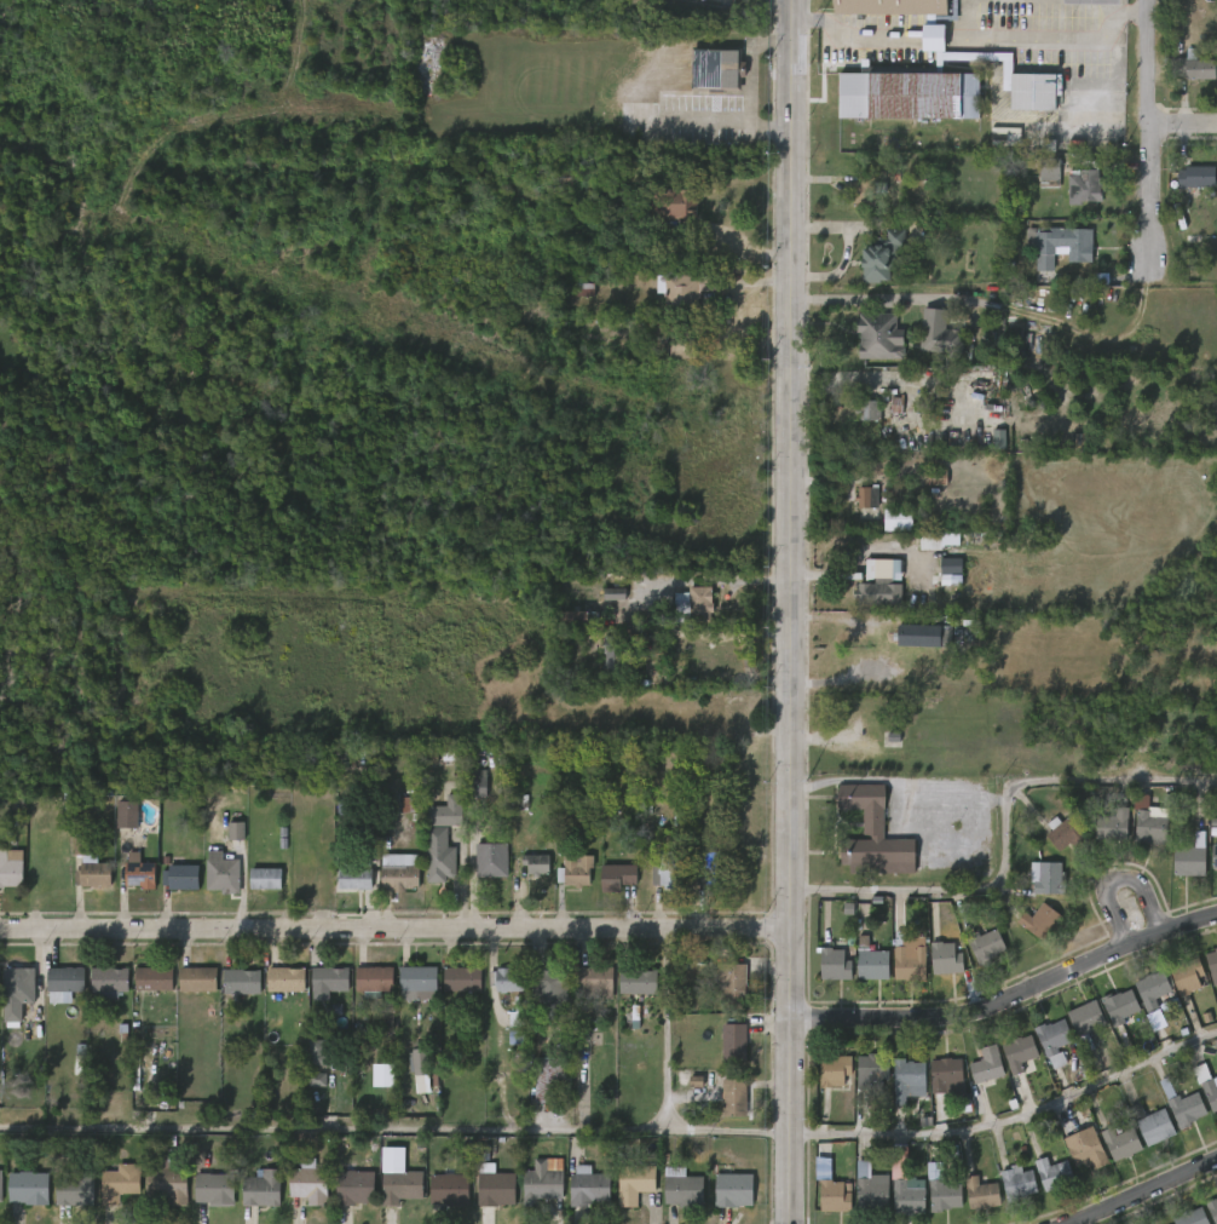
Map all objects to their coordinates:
road: (1113, 5)
building: (900, 7)
road: (1130, 10)
road: (858, 35)
road: (936, 36)
road: (959, 36)
building: (935, 38)
road: (1023, 39)
building: (1196, 67)
building: (717, 68)
building: (1021, 81)
building: (904, 92)
road: (1101, 131)
road: (1147, 132)
road: (1182, 132)
building: (1048, 172)
building: (1198, 176)
building: (1083, 183)
building: (860, 190)
building: (668, 207)
building: (619, 219)
building: (1062, 243)
road: (844, 248)
building: (884, 255)
road: (1144, 276)
building: (581, 289)
building: (684, 291)
road: (896, 299)
building: (938, 334)
building: (876, 337)
road: (1088, 337)
building: (896, 406)
building: (867, 410)
building: (999, 439)
building: (936, 479)
building: (867, 498)
building: (894, 519)
building: (932, 539)
building: (947, 569)
road: (714, 580)
building: (877, 581)
building: (615, 593)
building: (694, 605)
road: (790, 611)
building: (573, 619)
building: (916, 634)
building: (619, 653)
road: (648, 655)
building: (865, 717)
building: (451, 754)
road: (947, 780)
building: (478, 783)
building: (452, 810)
building: (126, 817)
building: (1149, 817)
building: (1114, 826)
building: (236, 831)
road: (1002, 833)
building: (1065, 833)
building: (871, 834)
building: (1213, 855)
building: (440, 857)
building: (1188, 857)
building: (490, 858)
building: (532, 863)
building: (10, 868)
building: (91, 868)
building: (710, 869)
building: (576, 870)
building: (668, 870)
building: (399, 872)
building: (139, 873)
building: (221, 873)
building: (180, 878)
building: (270, 878)
building: (358, 878)
building: (618, 878)
building: (1048, 879)
building: (1038, 920)
road: (394, 927)
building: (982, 943)
building: (1216, 947)
building: (942, 958)
building: (905, 959)
building: (869, 961)
building: (831, 964)
building: (1211, 966)
building: (548, 976)
building: (1186, 976)
building: (154, 977)
building: (197, 978)
building: (285, 978)
building: (420, 978)
building: (462, 978)
building: (329, 979)
building: (502, 979)
building: (638, 979)
building: (242, 981)
building: (377, 981)
building: (595, 981)
building: (731, 981)
building: (64, 982)
building: (109, 982)
building: (1150, 989)
building: (15, 993)
road: (1008, 996)
building: (1118, 1005)
building: (517, 1015)
building: (639, 1017)
building: (1084, 1018)
road: (665, 1029)
building: (1052, 1040)
building: (734, 1041)
building: (316, 1052)
building: (1017, 1053)
building: (79, 1065)
building: (986, 1067)
building: (421, 1069)
building: (836, 1070)
building: (873, 1070)
building: (946, 1071)
building: (317, 1080)
building: (548, 1080)
building: (910, 1080)
building: (1206, 1084)
building: (734, 1097)
building: (1183, 1105)
building: (1152, 1124)
road: (393, 1130)
road: (1009, 1134)
building: (1120, 1143)
building: (1084, 1147)
building: (946, 1150)
building: (1052, 1173)
building: (167, 1180)
building: (120, 1182)
building: (310, 1182)
building: (1014, 1182)
building: (0, 1183)
building: (542, 1183)
building: (635, 1183)
building: (402, 1184)
building: (590, 1185)
building: (28, 1186)
building: (75, 1186)
building: (354, 1186)
building: (496, 1186)
building: (869, 1186)
building: (215, 1188)
building: (263, 1188)
building: (684, 1188)
building: (736, 1188)
building: (450, 1189)
building: (979, 1194)
road: (1143, 1194)
building: (835, 1195)
building: (906, 1195)
building: (942, 1195)
building: (1216, 1200)
building: (1211, 1209)
building: (1188, 1217)

